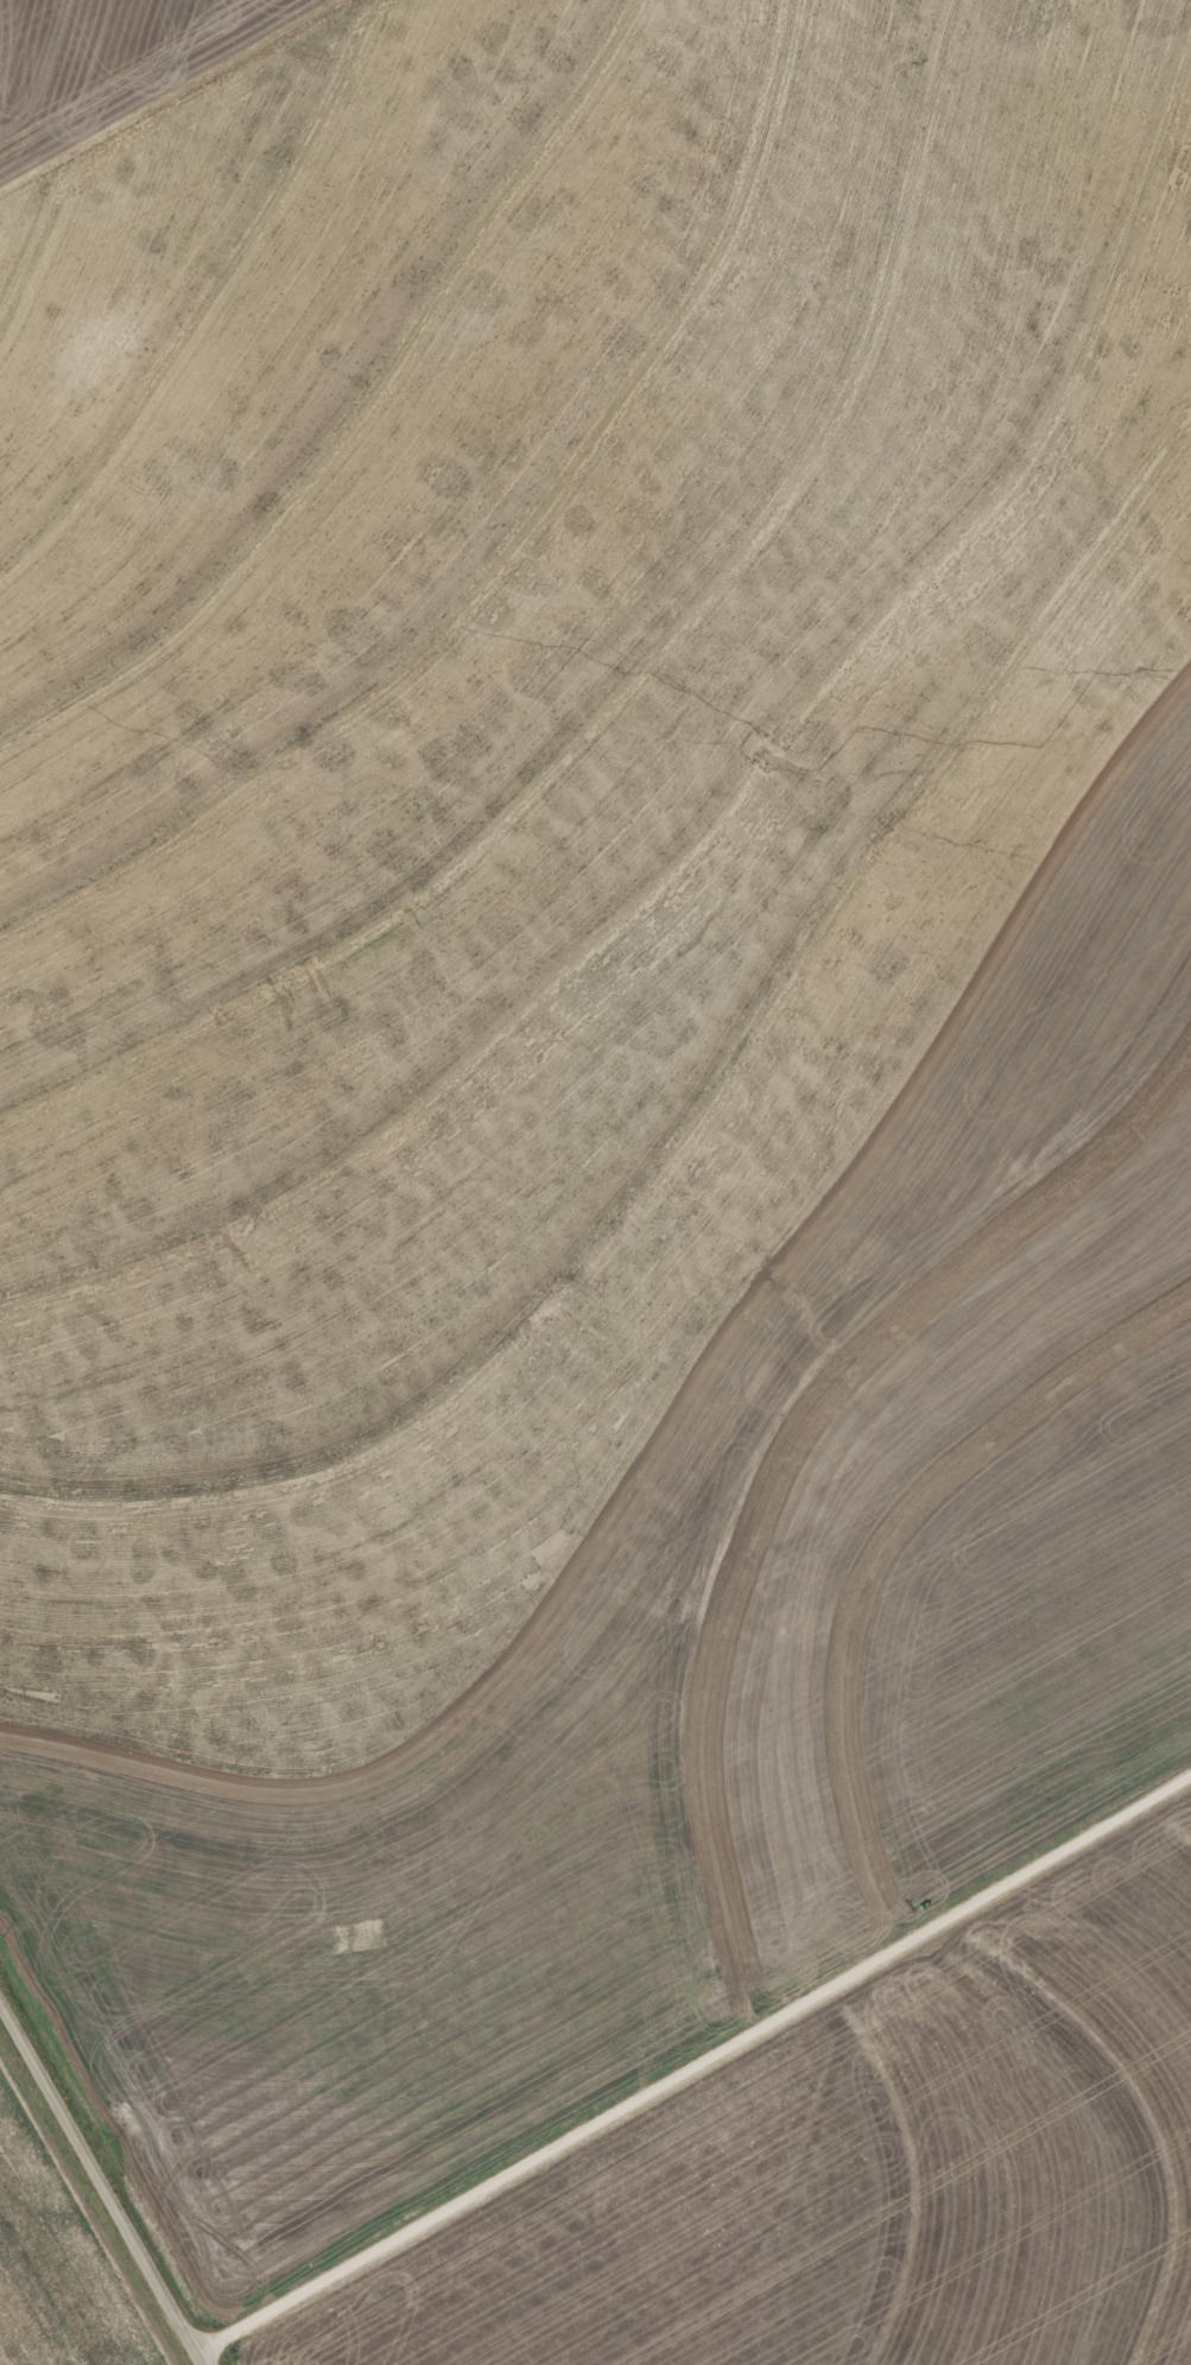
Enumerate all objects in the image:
road: (693, 2071)
road: (100, 2186)

